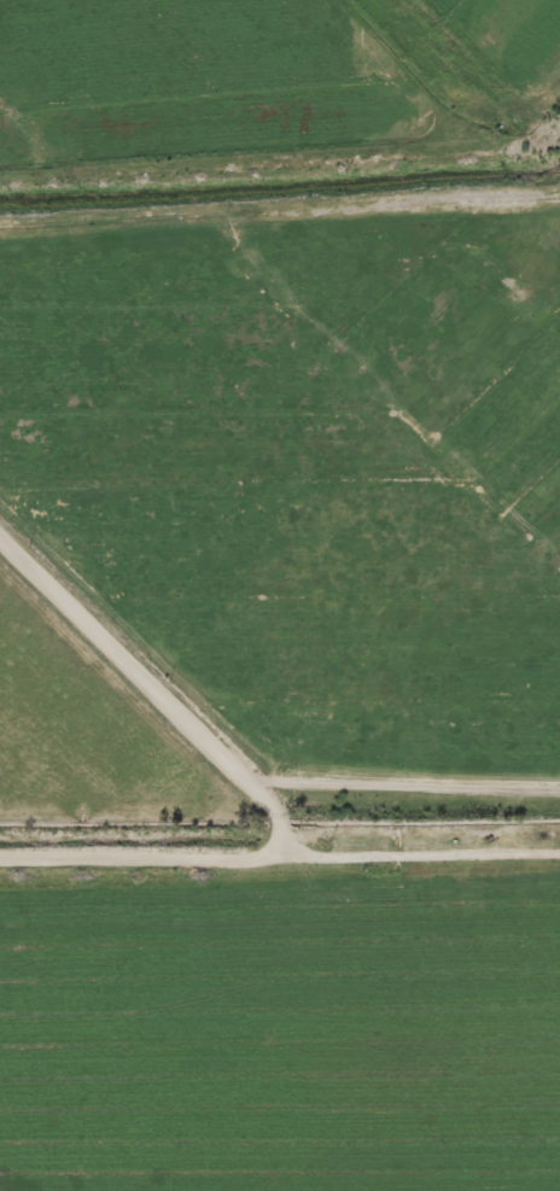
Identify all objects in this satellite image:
road: (154, 684)
road: (279, 853)

